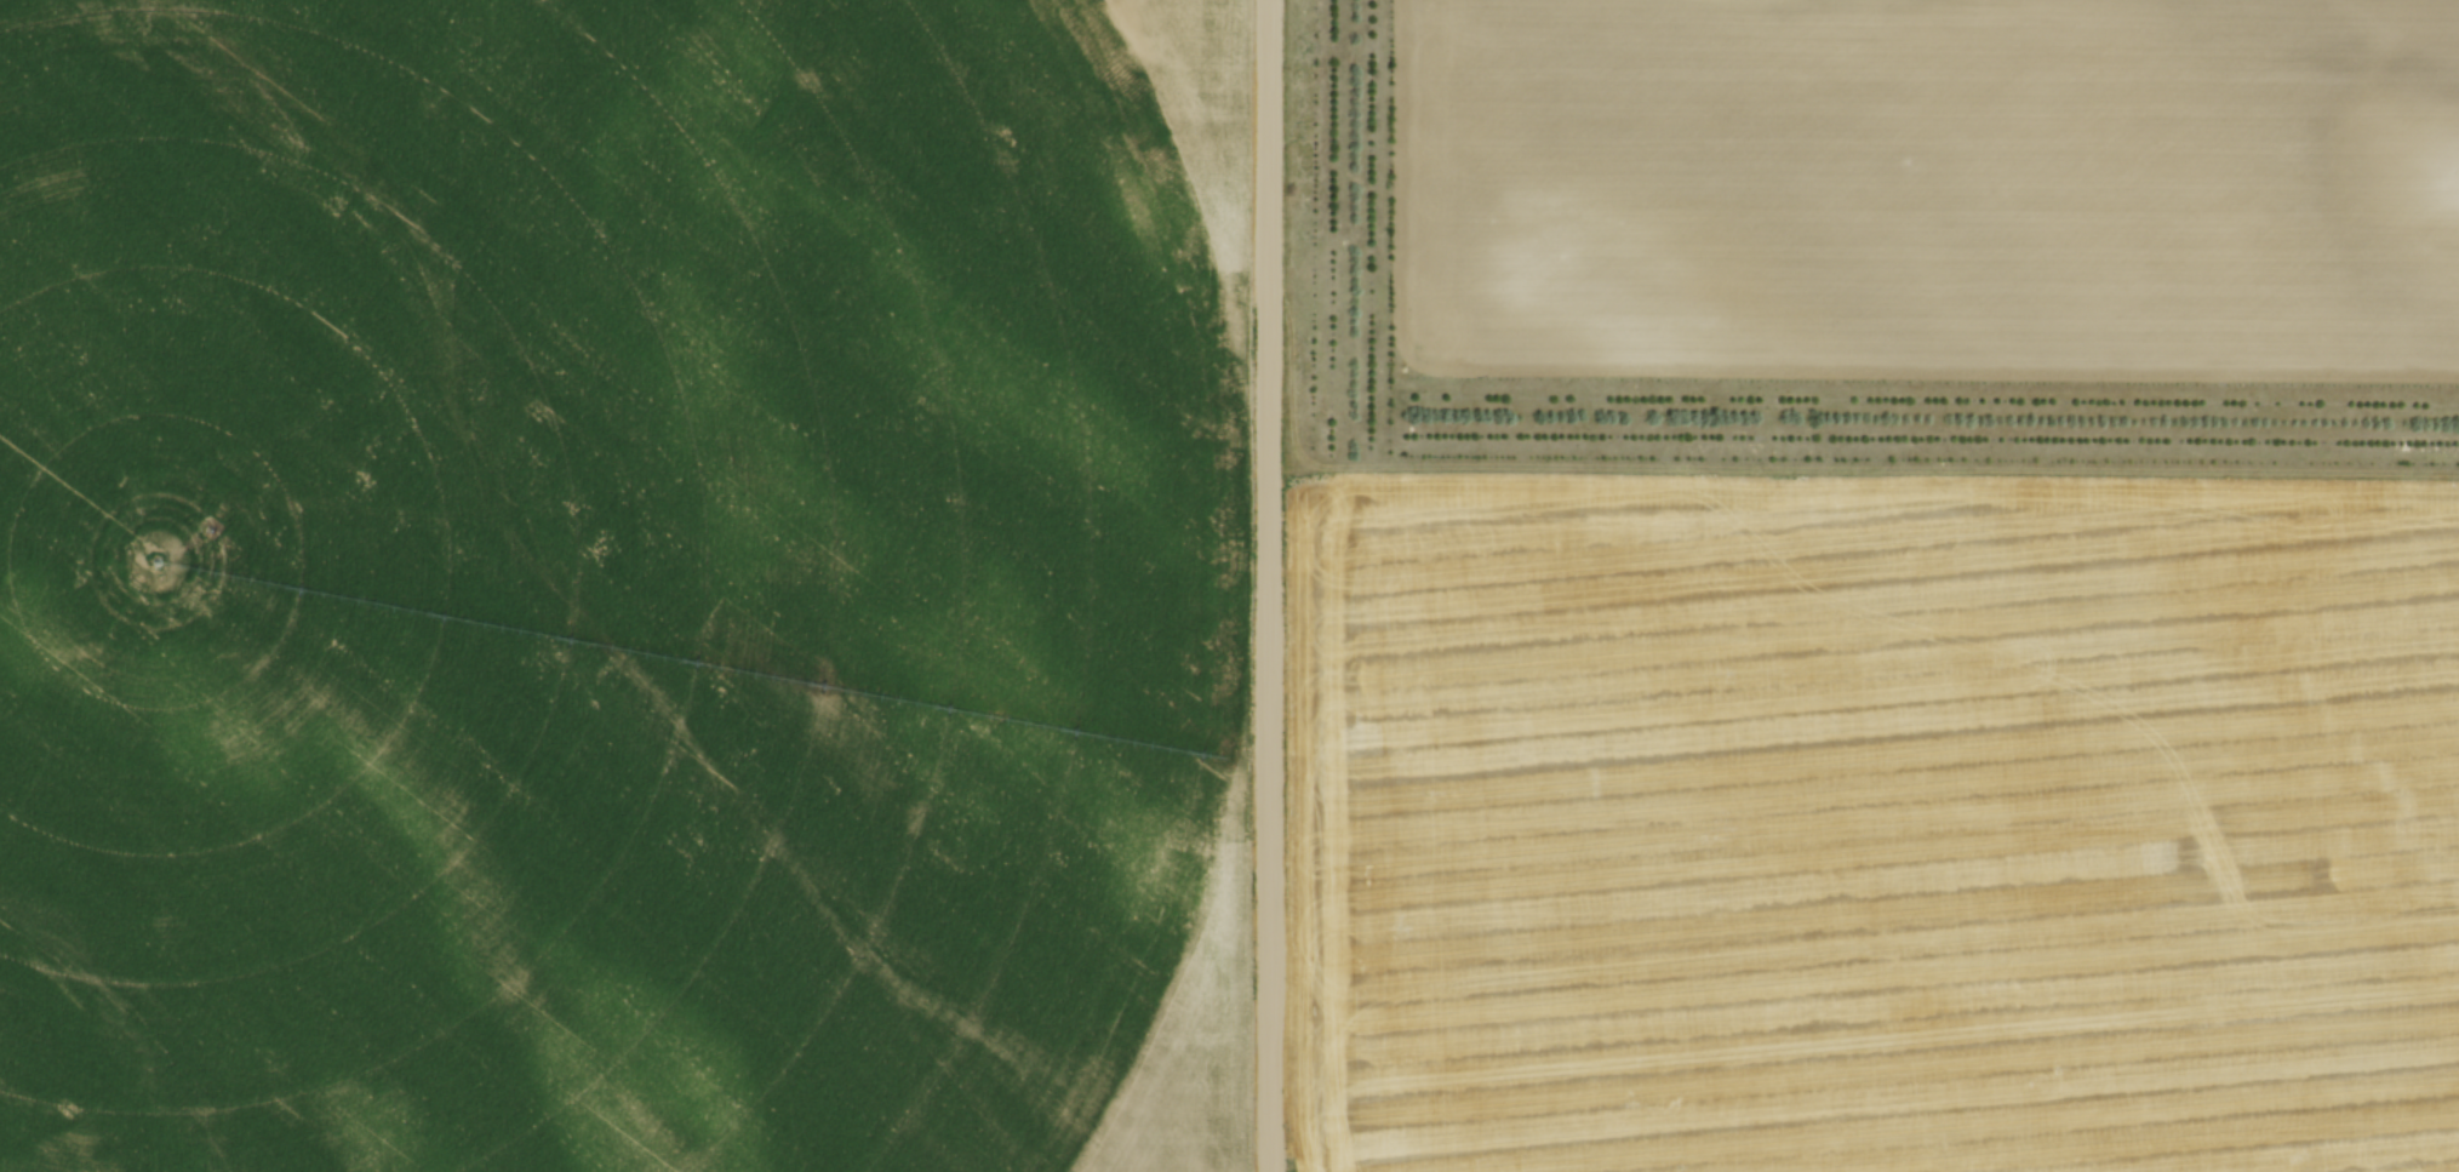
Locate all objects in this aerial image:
crop: (1938, 183)
crop: (624, 584)
road: (1266, 585)
crop: (1871, 825)

